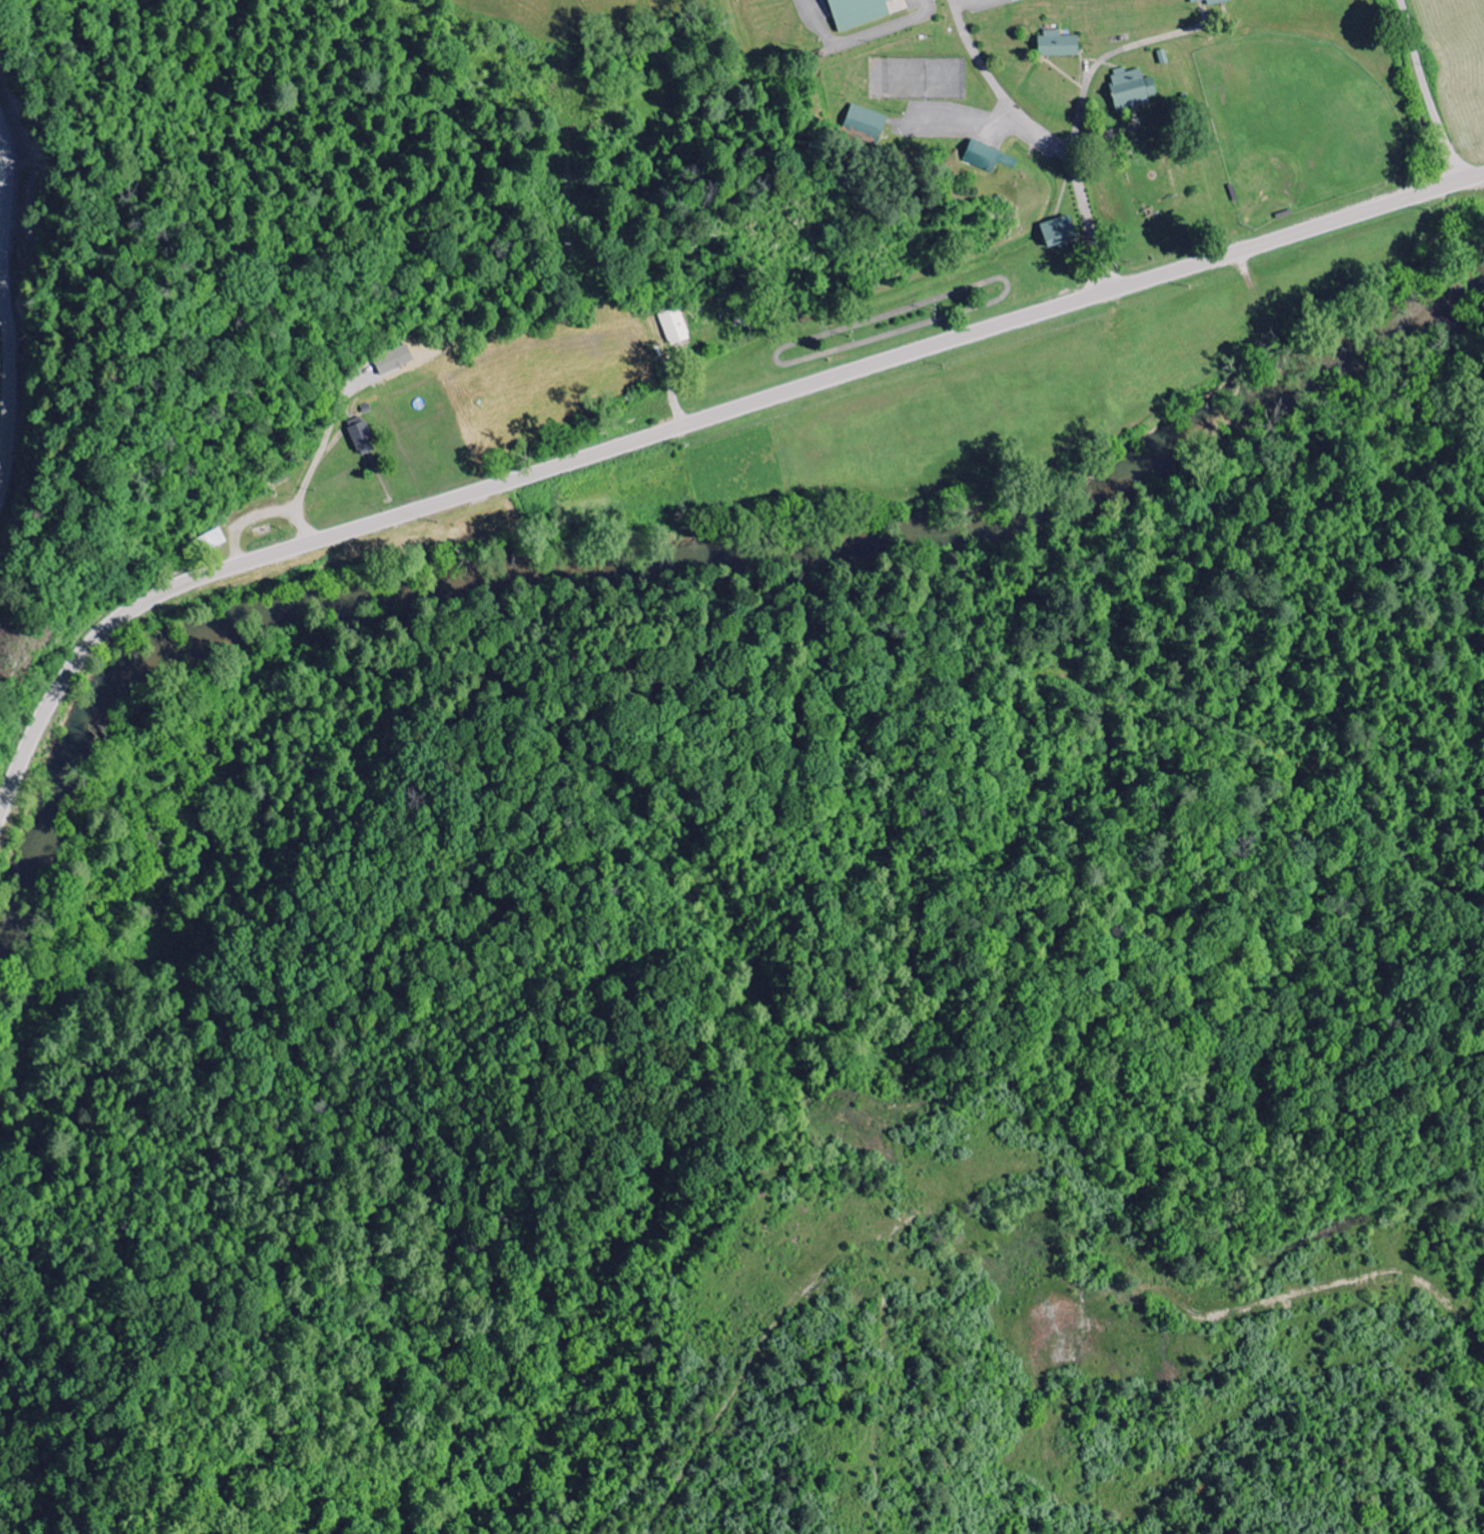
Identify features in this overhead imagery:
building: (1214, 1)
building: (865, 12)
building: (1061, 45)
building: (1135, 89)
road: (1427, 91)
building: (870, 119)
road: (1047, 137)
building: (991, 158)
building: (1062, 232)
road: (688, 424)
building: (363, 436)
building: (214, 540)

